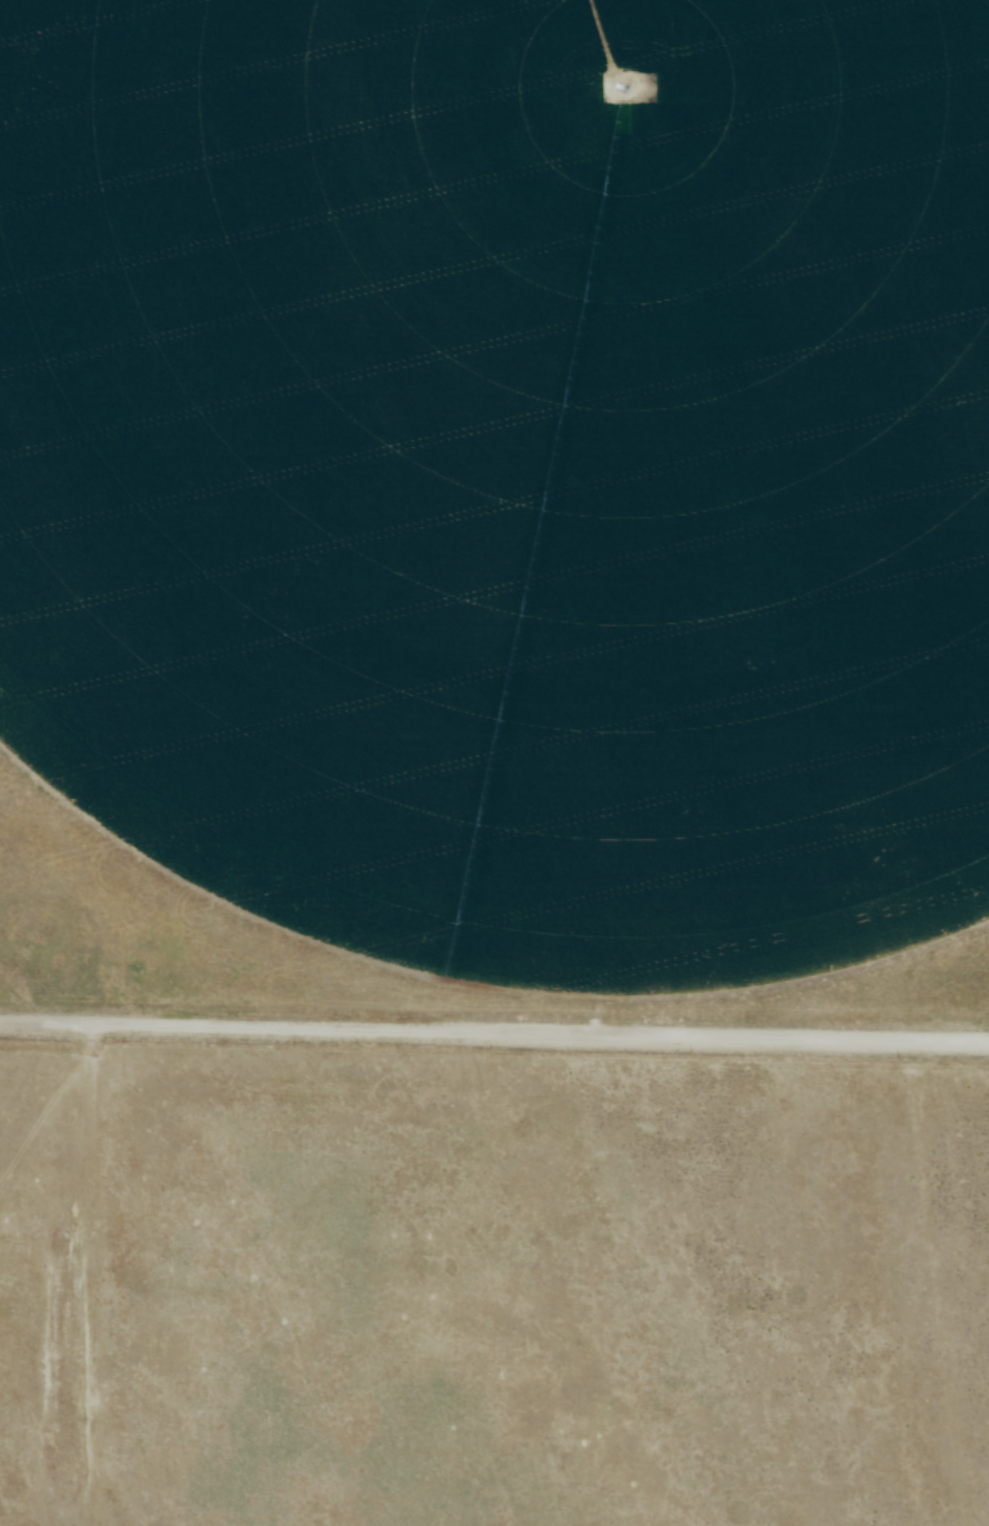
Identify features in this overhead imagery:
crop: (509, 470)
road: (494, 1037)

